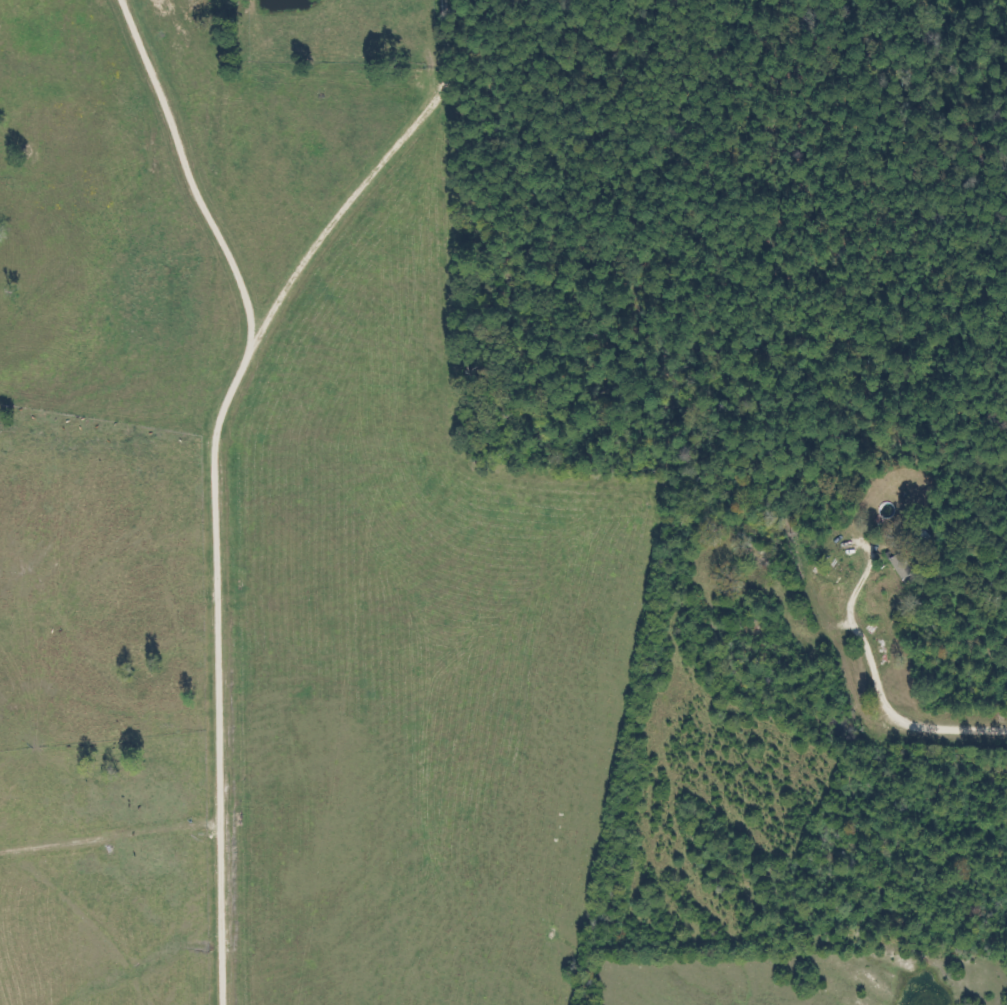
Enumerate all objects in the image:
building: (897, 566)
building: (842, 570)
building: (1005, 664)
road: (993, 722)

